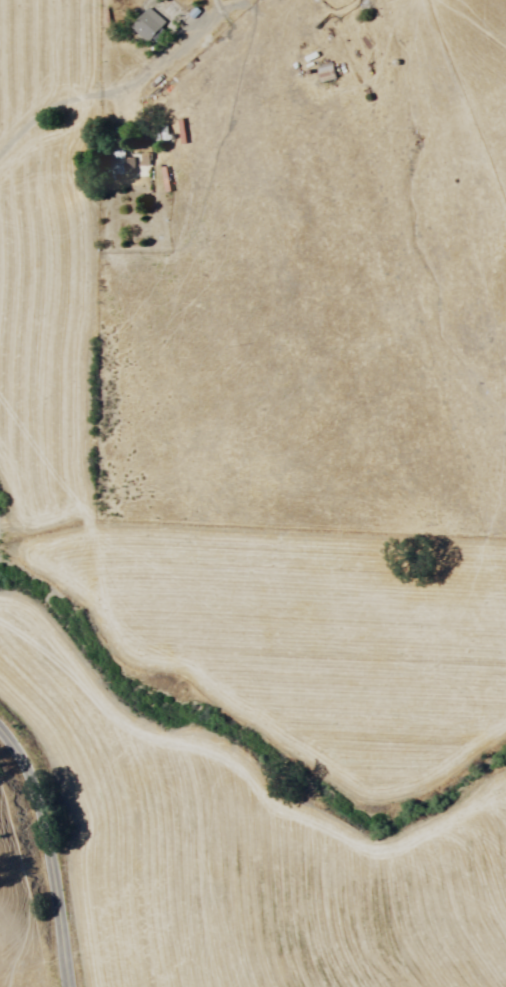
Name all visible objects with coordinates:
building: (139, 21)
building: (149, 25)
building: (318, 71)
road: (116, 89)
building: (137, 156)
building: (146, 159)
building: (118, 167)
crop: (226, 661)
road: (48, 850)

